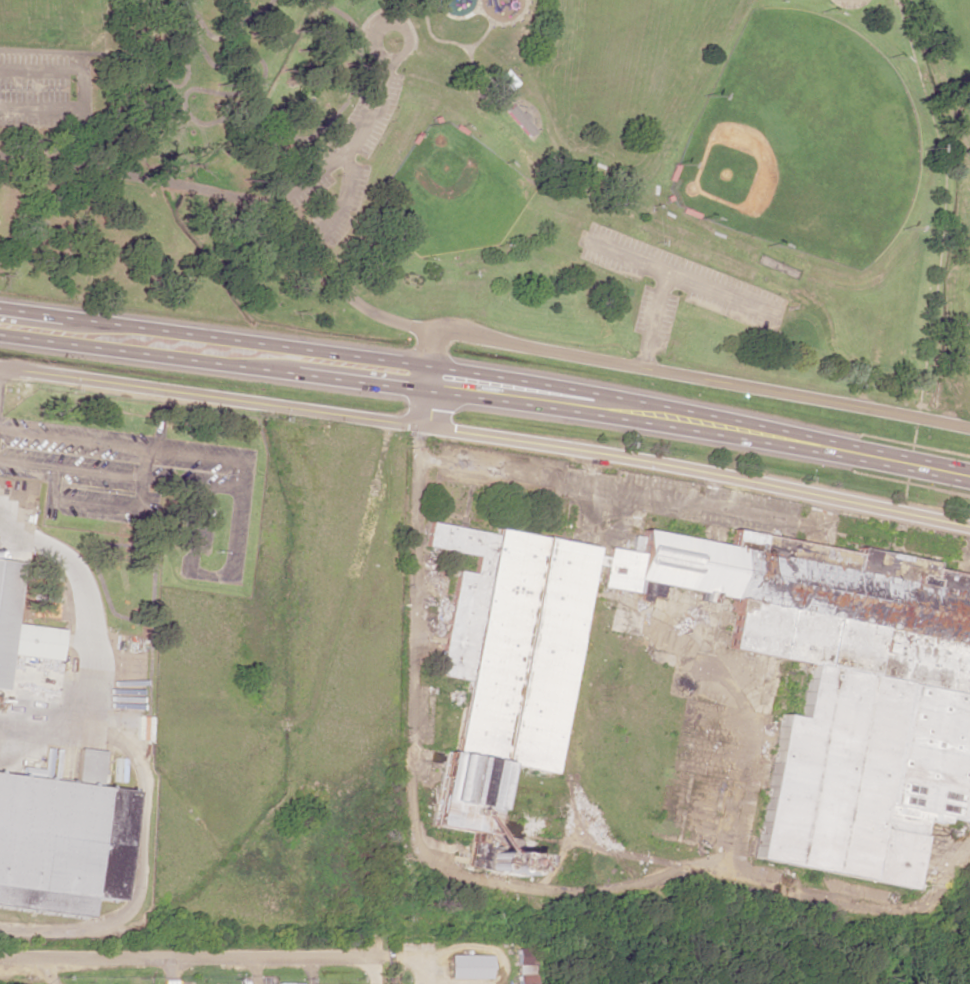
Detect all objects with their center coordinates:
road: (456, 17)
road: (394, 20)
road: (501, 24)
road: (480, 37)
road: (448, 41)
park: (968, 70)
road: (84, 86)
park: (803, 140)
road: (347, 144)
park: (511, 176)
park: (451, 193)
road: (341, 201)
road: (680, 276)
road: (339, 284)
road: (655, 319)
road: (299, 349)
road: (297, 374)
road: (684, 375)
road: (425, 396)
road: (212, 398)
road: (782, 438)
road: (698, 472)
building: (653, 590)
building: (21, 627)
building: (883, 713)
road: (129, 758)
building: (61, 839)
road: (180, 957)
building: (525, 960)
building: (469, 966)
building: (525, 979)
building: (286, 983)

